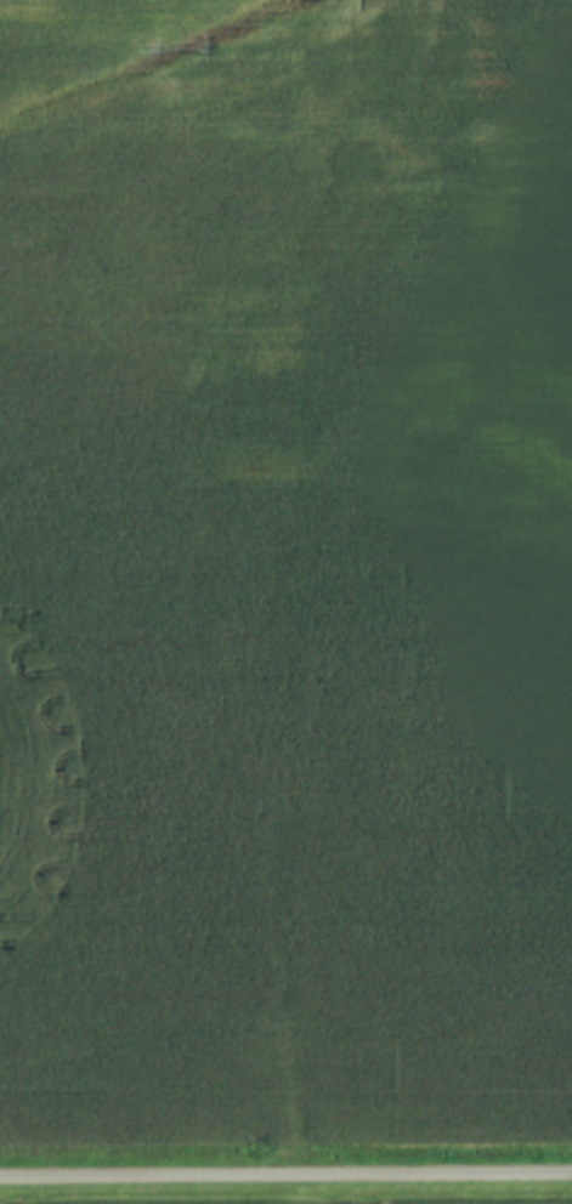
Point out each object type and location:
road: (285, 1175)

